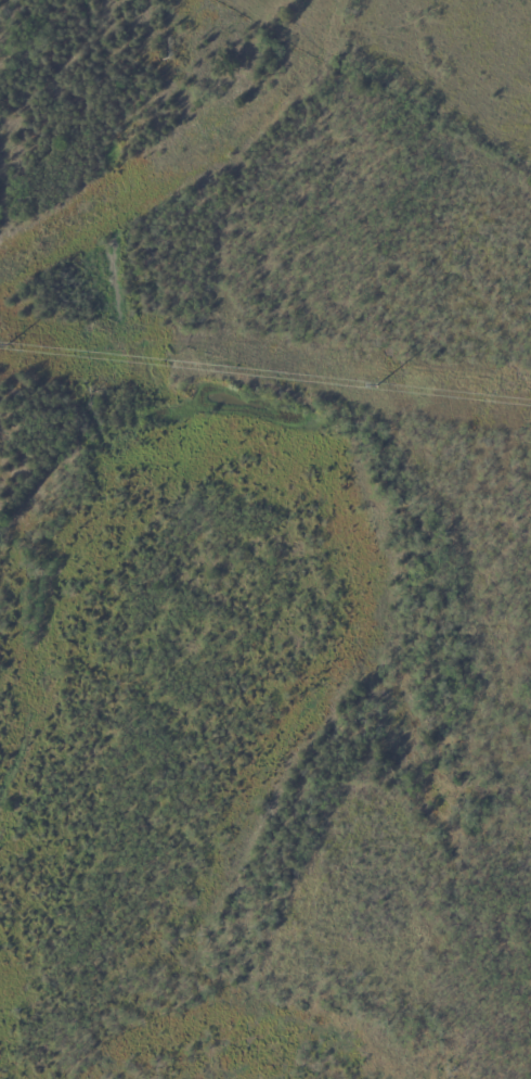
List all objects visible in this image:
power tower: (5, 347)
power tower: (377, 388)

